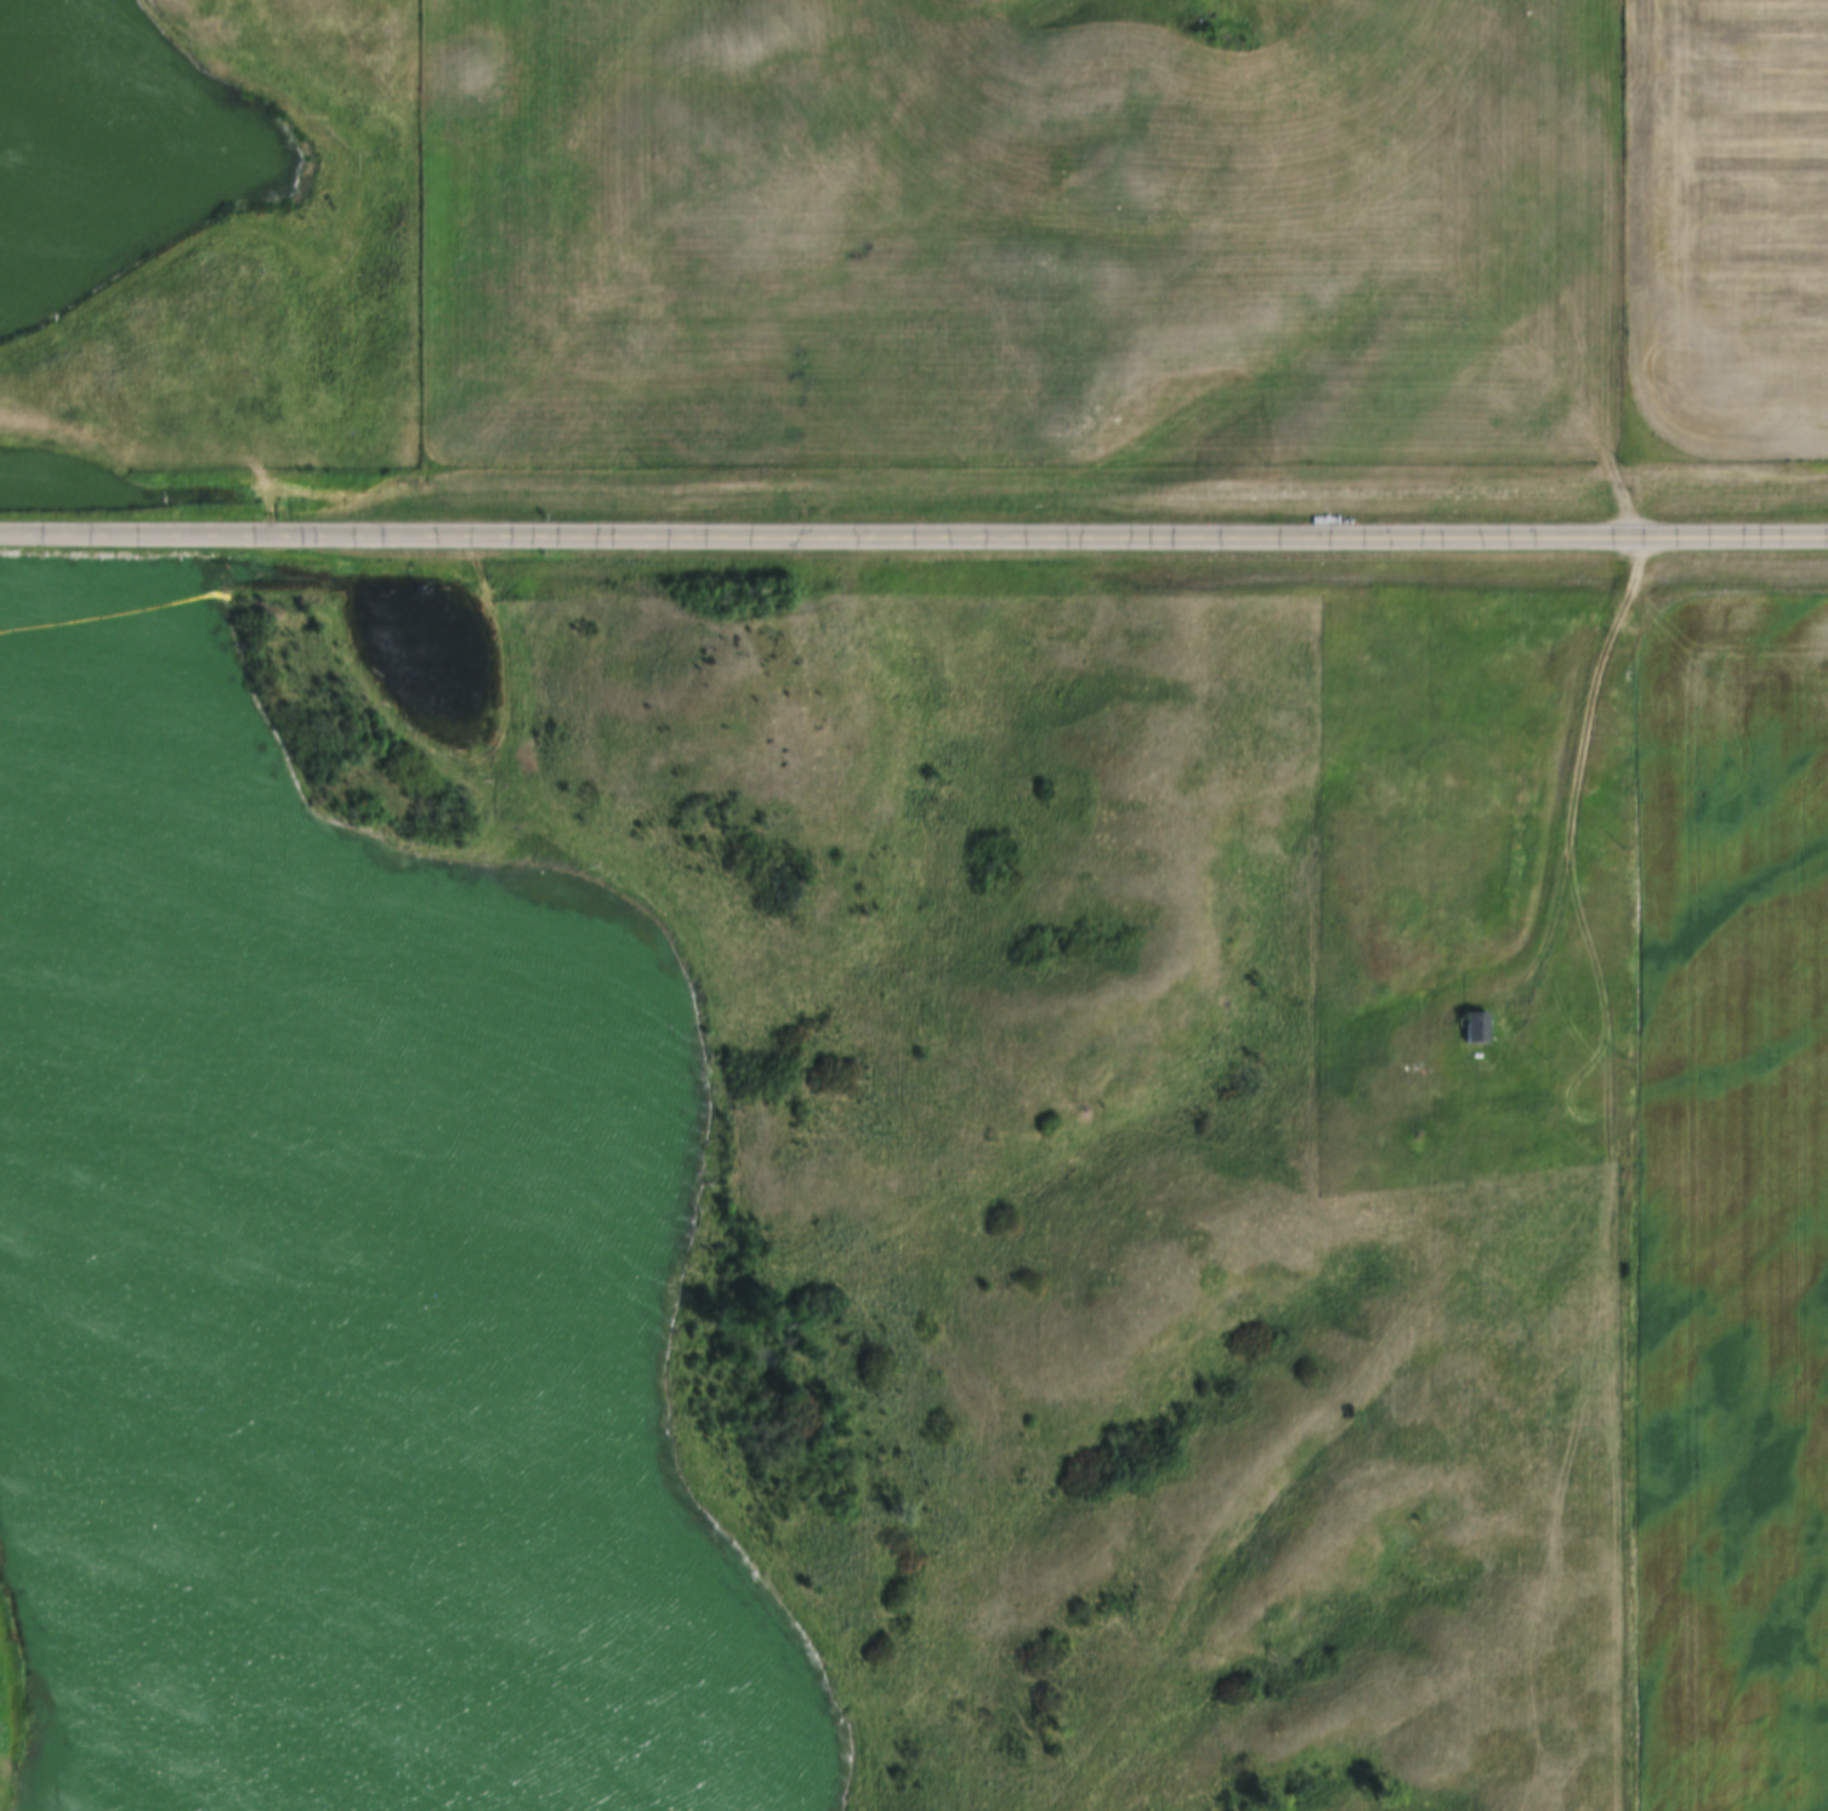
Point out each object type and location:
road: (913, 534)
road: (1577, 776)
building: (1477, 1024)

